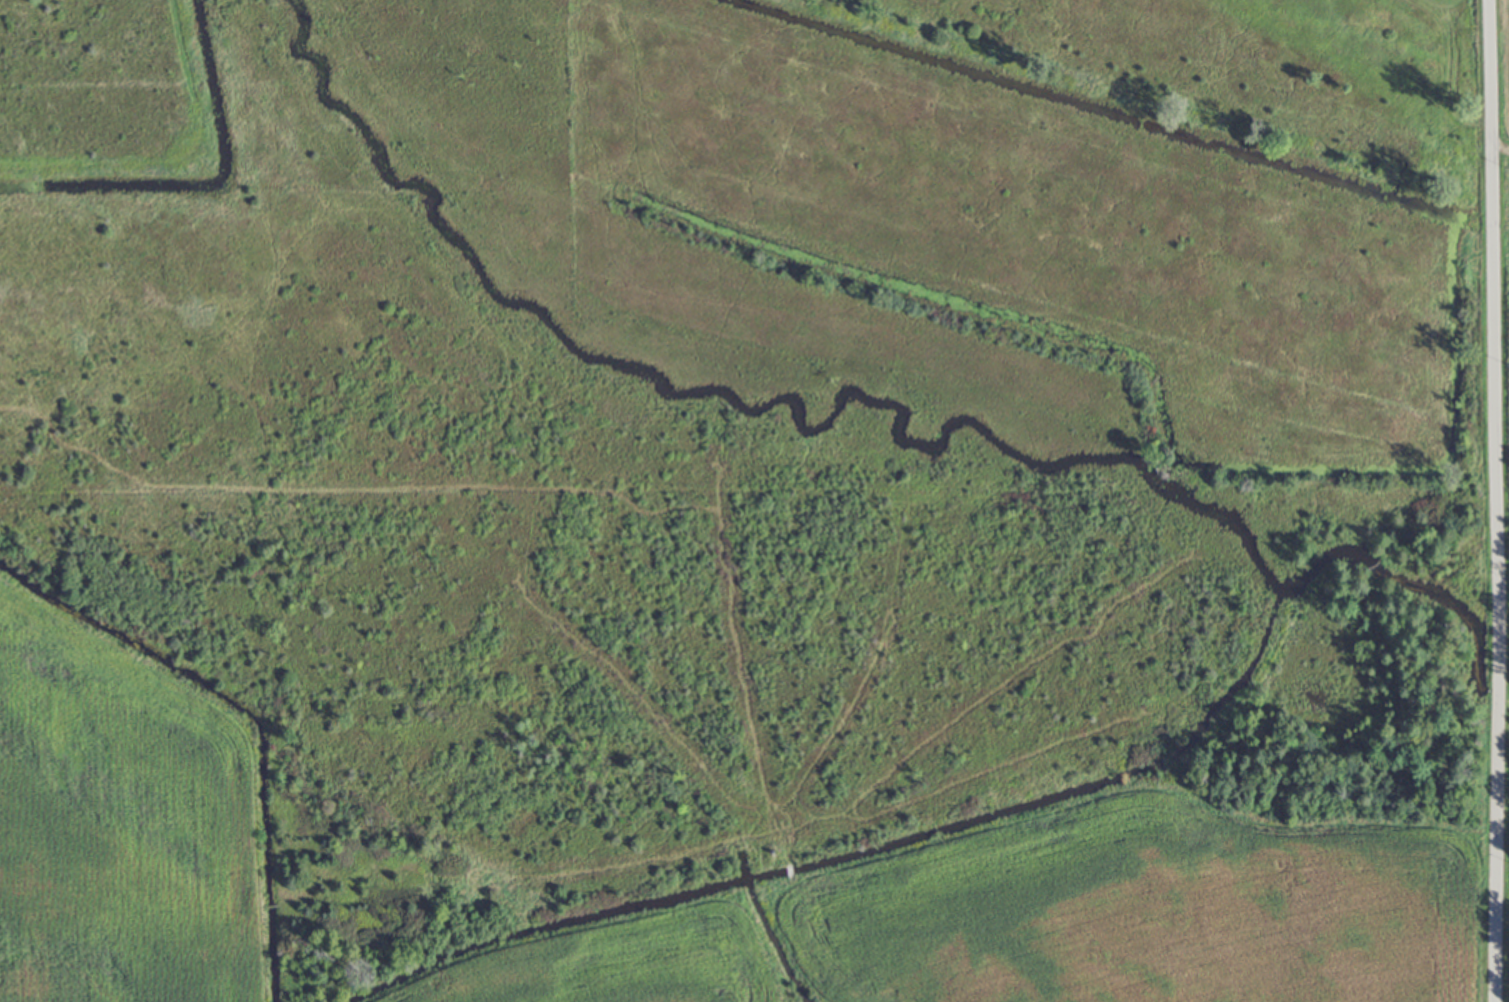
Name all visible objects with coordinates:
road: (1503, 500)

